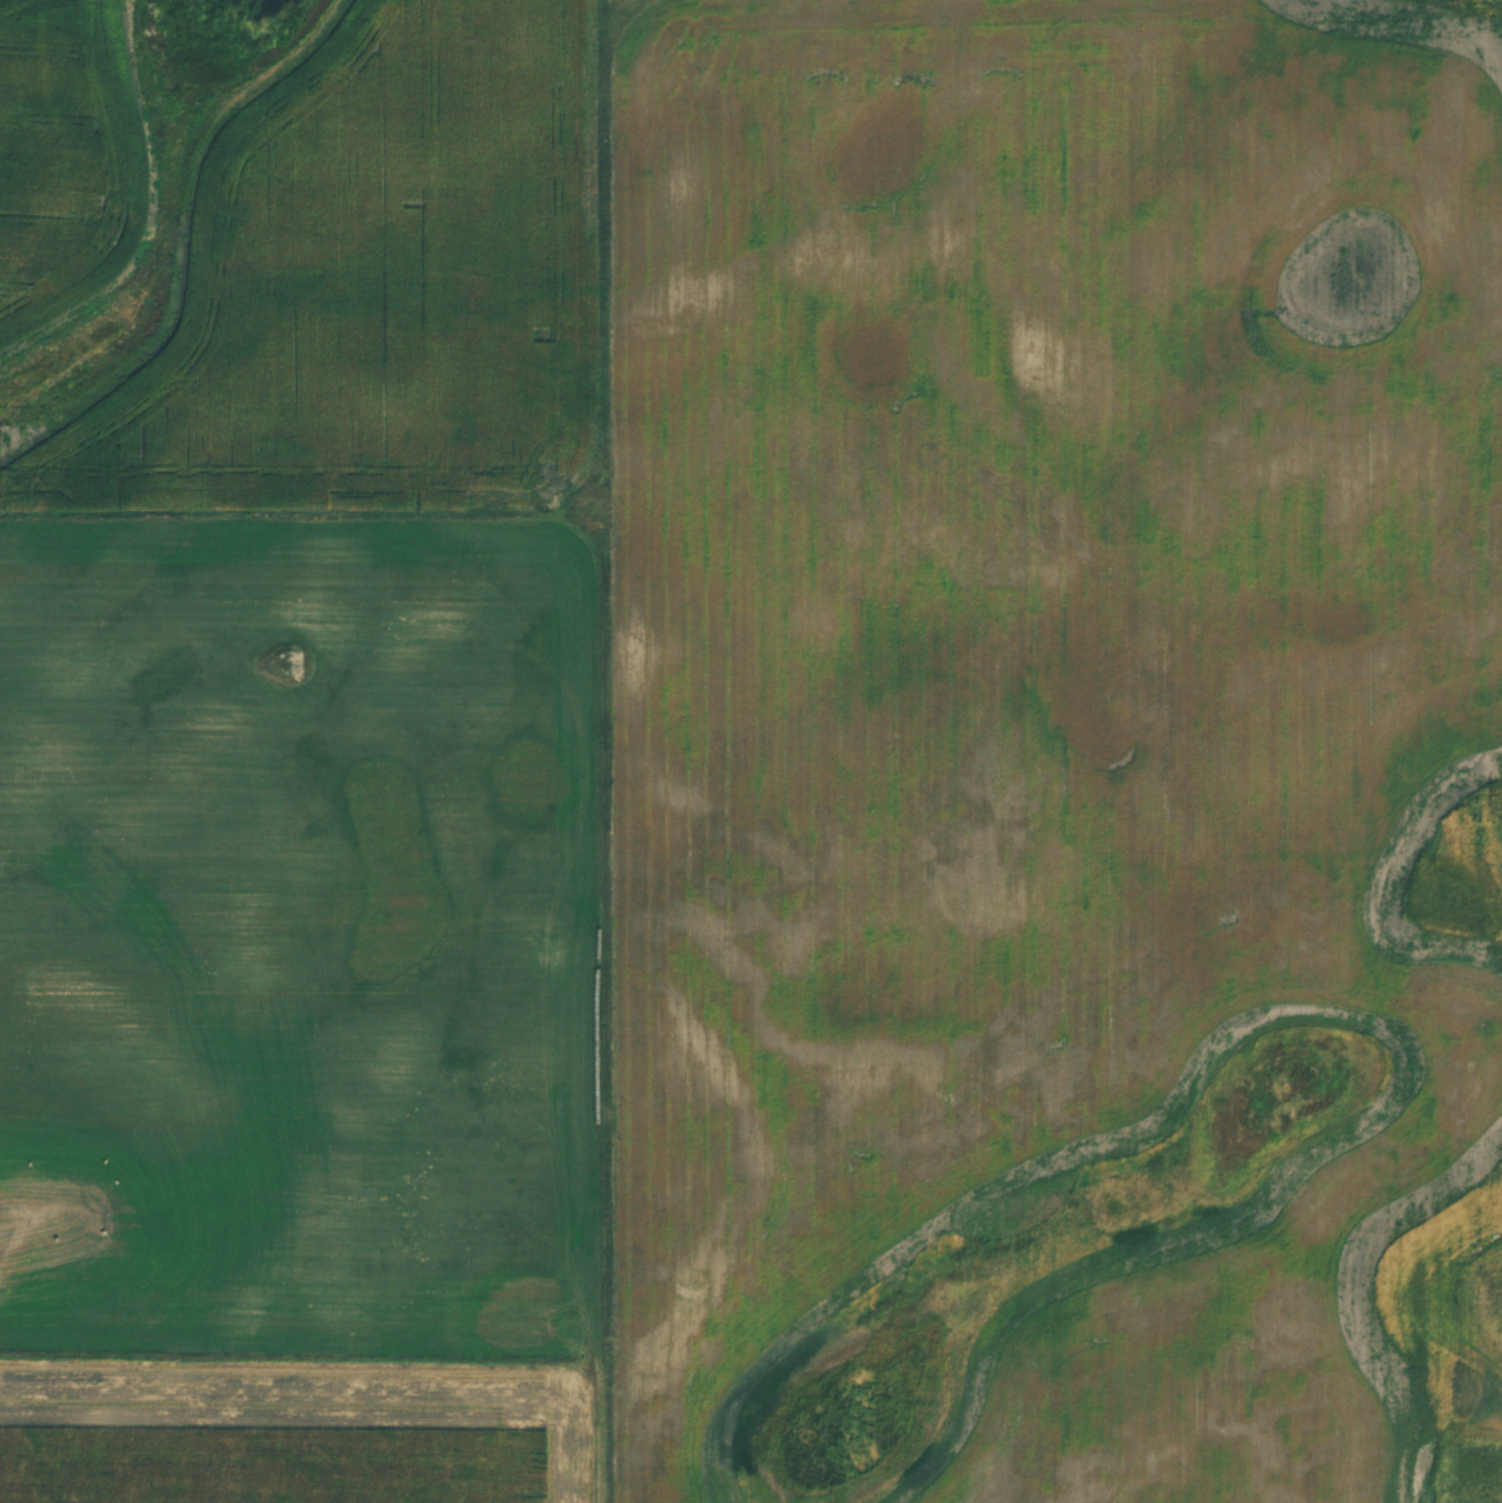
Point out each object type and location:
road: (600, 1021)

